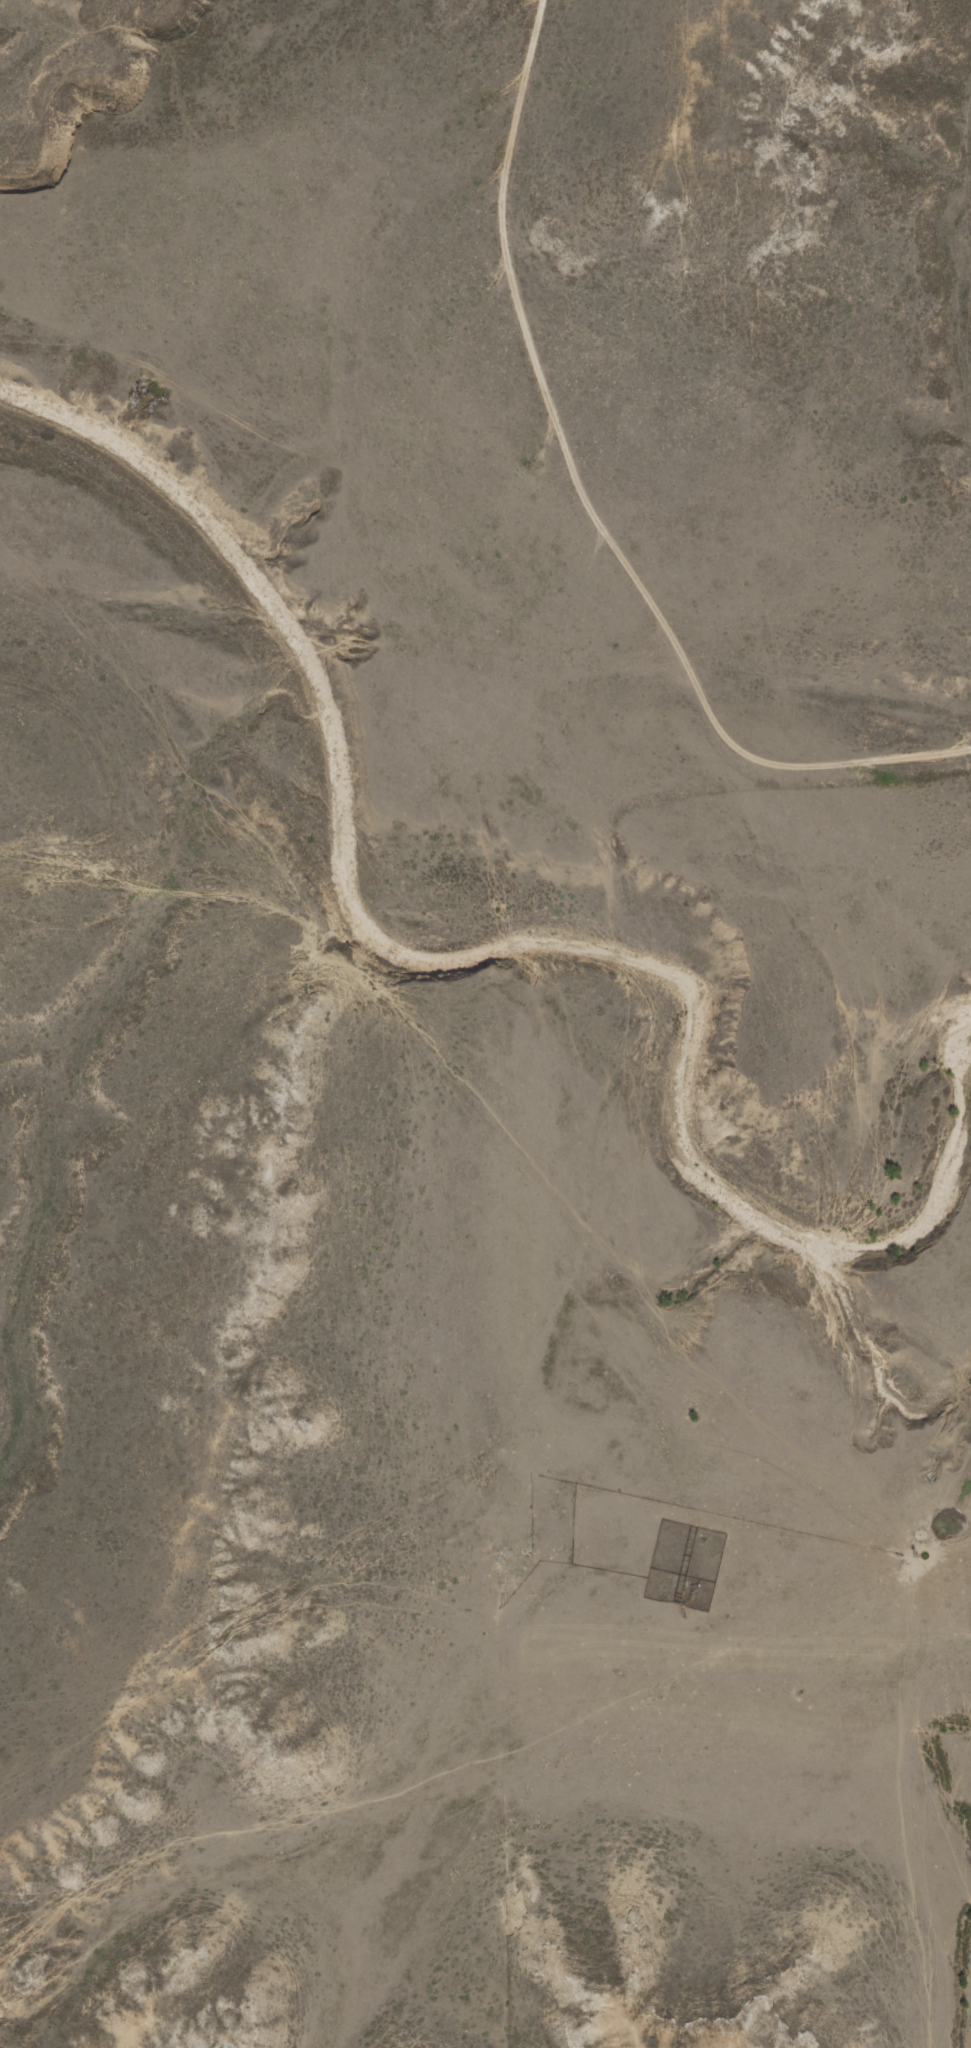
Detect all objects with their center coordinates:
river: (454, 960)
river: (968, 1079)

